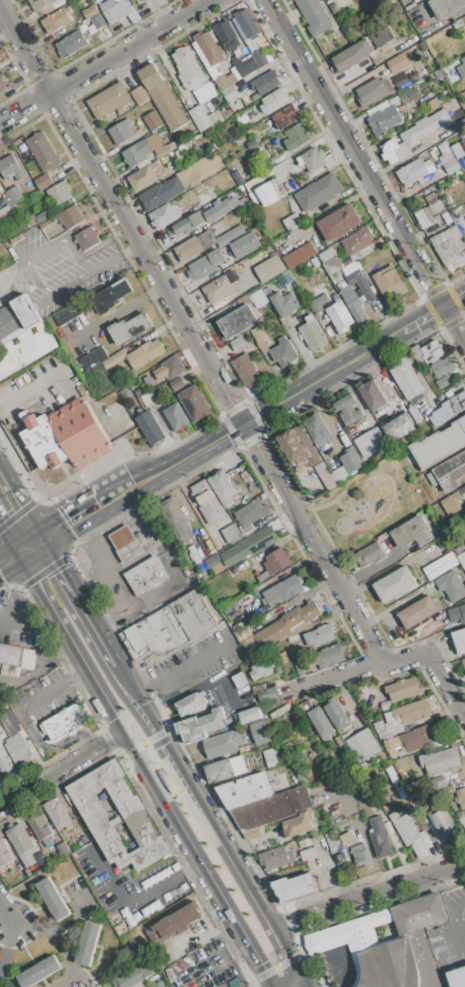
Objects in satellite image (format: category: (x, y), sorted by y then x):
building: (134, 0)
building: (415, 0)
building: (42, 5)
building: (445, 6)
building: (118, 10)
building: (90, 12)
building: (314, 16)
building: (56, 20)
building: (98, 21)
building: (247, 24)
road: (437, 24)
building: (380, 36)
building: (230, 37)
building: (77, 38)
building: (208, 47)
building: (352, 55)
building: (258, 57)
building: (202, 58)
building: (402, 60)
road: (105, 62)
building: (244, 65)
building: (462, 67)
building: (188, 69)
building: (223, 77)
road: (343, 78)
building: (2, 82)
building: (266, 82)
building: (373, 91)
building: (233, 92)
building: (140, 95)
building: (404, 95)
building: (163, 96)
building: (108, 100)
building: (275, 100)
building: (433, 103)
building: (216, 116)
building: (285, 116)
building: (200, 117)
building: (152, 120)
building: (384, 120)
building: (121, 132)
building: (414, 135)
building: (296, 136)
building: (163, 149)
building: (43, 151)
building: (136, 153)
building: (447, 158)
building: (317, 160)
building: (11, 168)
road: (365, 168)
building: (415, 172)
building: (143, 177)
building: (238, 177)
building: (43, 181)
building: (254, 184)
building: (318, 192)
building: (0, 193)
building: (59, 193)
building: (161, 193)
building: (265, 194)
building: (13, 196)
building: (221, 208)
building: (428, 211)
road: (322, 213)
building: (164, 215)
building: (43, 216)
building: (71, 217)
building: (292, 222)
building: (188, 223)
building: (339, 223)
building: (229, 235)
building: (87, 238)
building: (357, 241)
building: (194, 246)
building: (449, 247)
building: (244, 252)
building: (298, 255)
road: (113, 258)
road: (21, 260)
building: (313, 262)
building: (204, 265)
building: (331, 266)
building: (269, 268)
building: (386, 277)
building: (285, 278)
road: (6, 283)
building: (220, 287)
building: (357, 295)
building: (258, 298)
building: (317, 299)
building: (284, 303)
road: (119, 310)
building: (120, 313)
building: (67, 314)
building: (339, 316)
building: (237, 322)
building: (331, 327)
building: (312, 333)
building: (23, 337)
building: (260, 338)
building: (238, 344)
building: (426, 352)
building: (144, 354)
building: (284, 355)
building: (93, 358)
building: (113, 359)
building: (442, 366)
building: (169, 368)
building: (246, 369)
building: (406, 380)
road: (40, 381)
road: (379, 382)
building: (176, 383)
road: (224, 385)
building: (144, 396)
building: (372, 396)
road: (282, 402)
building: (195, 403)
building: (449, 408)
building: (347, 409)
building: (416, 415)
building: (176, 417)
traffic signals: (247, 424)
road: (331, 426)
building: (150, 428)
building: (399, 428)
building: (317, 429)
building: (64, 435)
building: (370, 443)
building: (439, 444)
building: (298, 449)
building: (353, 463)
building: (447, 471)
building: (339, 476)
building: (222, 488)
building: (453, 501)
road: (19, 502)
building: (207, 502)
park: (369, 502)
building: (250, 514)
traffic signals: (0, 516)
road: (67, 517)
traffic signals: (67, 518)
building: (176, 520)
building: (410, 531)
road: (9, 533)
building: (229, 533)
road: (29, 543)
building: (126, 544)
building: (248, 546)
building: (370, 554)
road: (9, 557)
building: (462, 558)
building: (212, 561)
building: (274, 563)
building: (440, 566)
traffic signals: (61, 570)
building: (146, 575)
road: (113, 578)
road: (68, 582)
building: (395, 584)
building: (451, 586)
building: (283, 591)
road: (20, 602)
road: (392, 606)
building: (418, 612)
building: (457, 614)
building: (171, 625)
building: (285, 626)
road: (39, 635)
building: (319, 635)
building: (459, 640)
road: (31, 647)
road: (106, 647)
building: (328, 656)
building: (15, 659)
building: (463, 663)
building: (299, 667)
road: (179, 668)
building: (260, 670)
road: (340, 678)
building: (238, 680)
road: (57, 686)
road: (195, 688)
building: (402, 689)
road: (163, 690)
building: (267, 694)
building: (192, 703)
building: (336, 714)
building: (250, 715)
building: (401, 719)
building: (65, 721)
building: (320, 723)
building: (201, 725)
traffic signals: (123, 730)
building: (259, 732)
building: (416, 737)
road: (144, 742)
building: (222, 743)
traffic signals: (161, 745)
building: (363, 745)
road: (47, 747)
building: (19, 748)
road: (149, 753)
building: (271, 759)
building: (447, 760)
building: (5, 761)
road: (61, 767)
road: (145, 769)
building: (223, 769)
building: (449, 788)
building: (245, 791)
road: (191, 796)
building: (461, 796)
building: (272, 808)
building: (460, 814)
building: (59, 816)
building: (140, 821)
building: (298, 824)
building: (443, 824)
building: (41, 829)
building: (251, 833)
building: (411, 834)
building: (346, 838)
building: (379, 838)
building: (331, 839)
building: (21, 844)
building: (62, 849)
building: (4, 854)
building: (307, 854)
building: (360, 855)
building: (276, 857)
building: (342, 858)
building: (41, 859)
building: (293, 887)
road: (366, 895)
building: (52, 899)
road: (130, 904)
road: (5, 910)
road: (451, 912)
building: (173, 924)
road: (59, 926)
parking lot: (449, 931)
road: (446, 941)
building: (88, 943)
building: (382, 946)
road: (283, 954)
road: (3, 955)
road: (68, 963)
road: (0, 968)
building: (38, 971)
building: (134, 976)
building: (457, 977)
traffic signals: (297, 981)
road: (292, 984)
road: (298, 984)
building: (156, 985)

